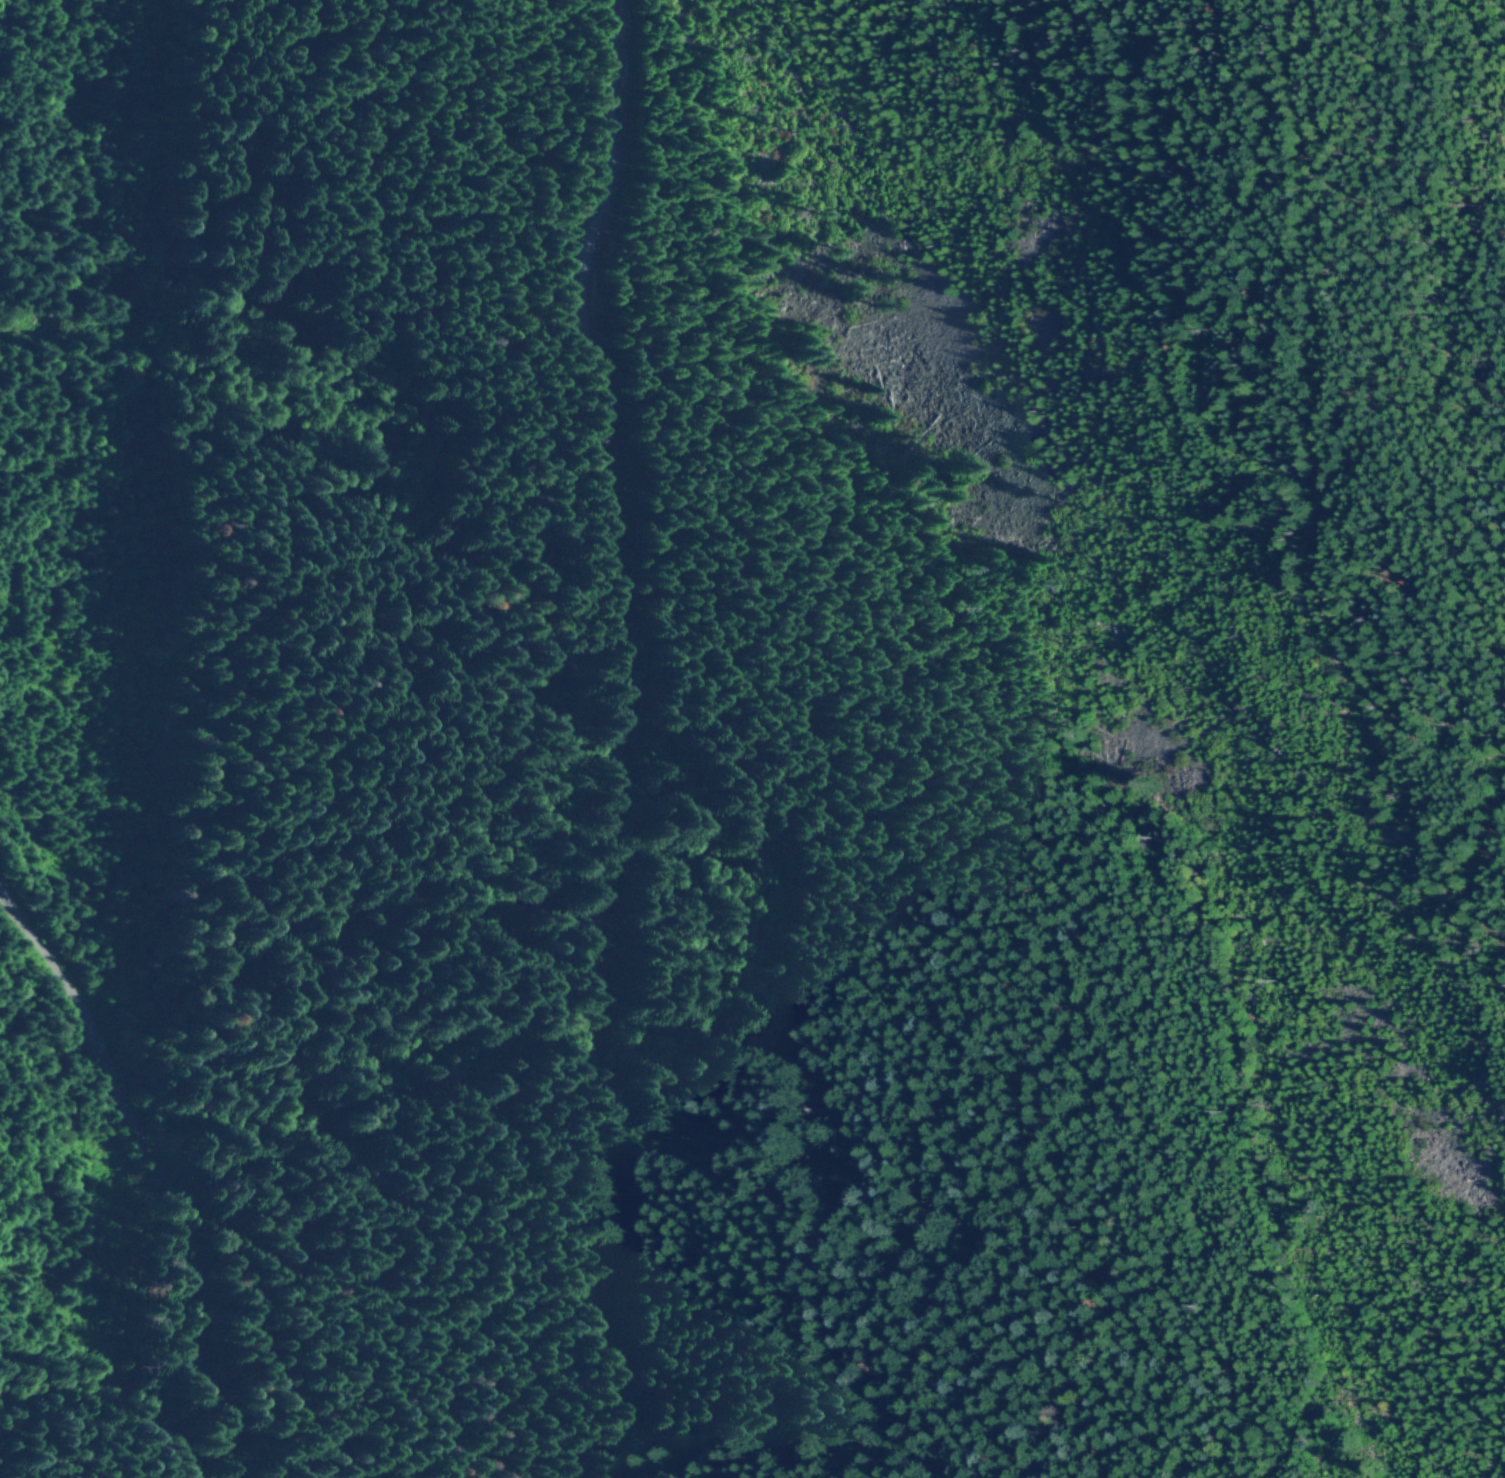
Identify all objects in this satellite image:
road: (660, 733)
road: (157, 1170)

